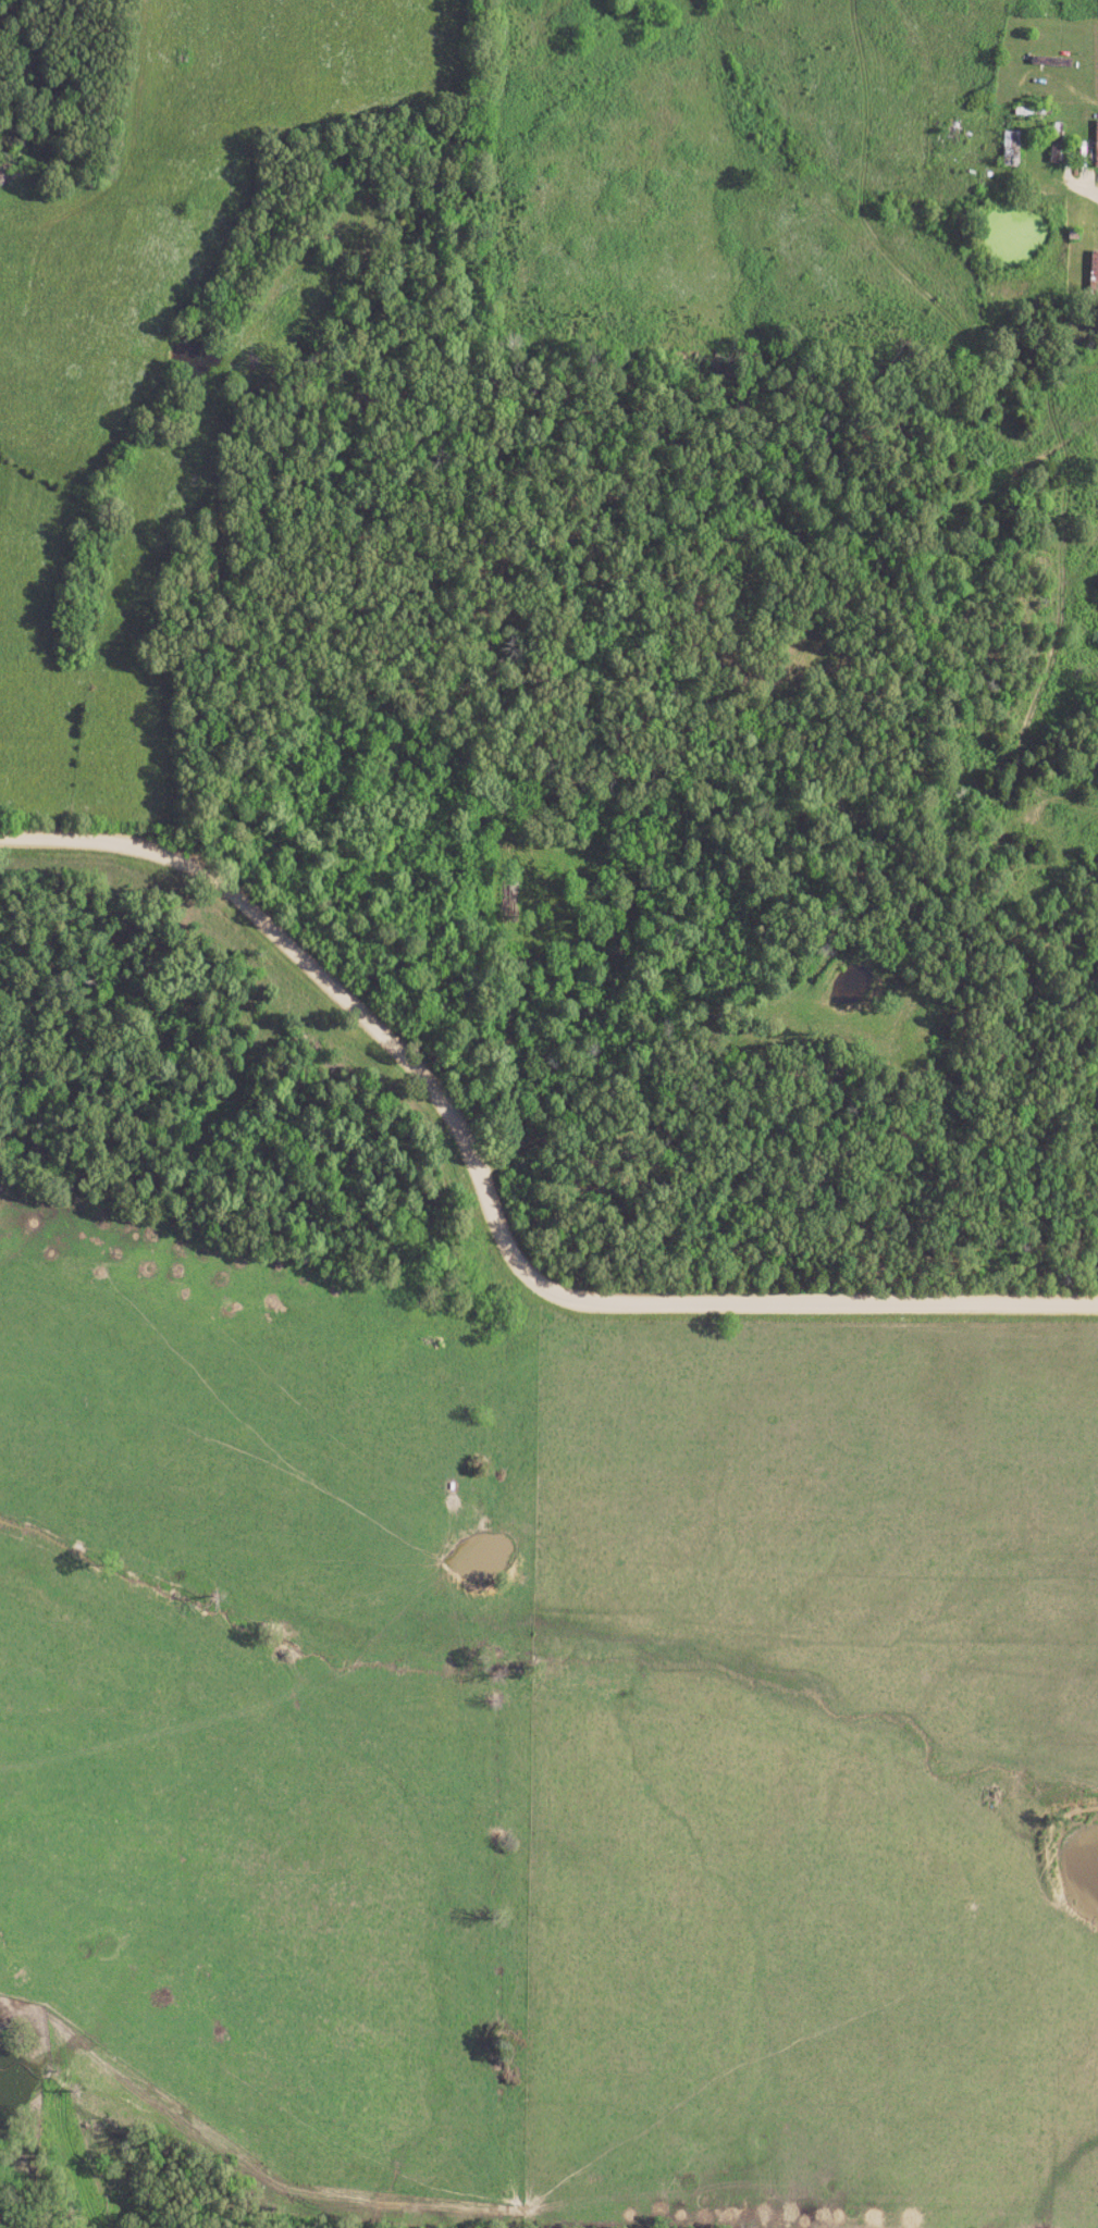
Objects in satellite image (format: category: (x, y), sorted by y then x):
road: (1095, 102)
building: (1011, 149)
road: (1085, 190)
road: (490, 1199)

